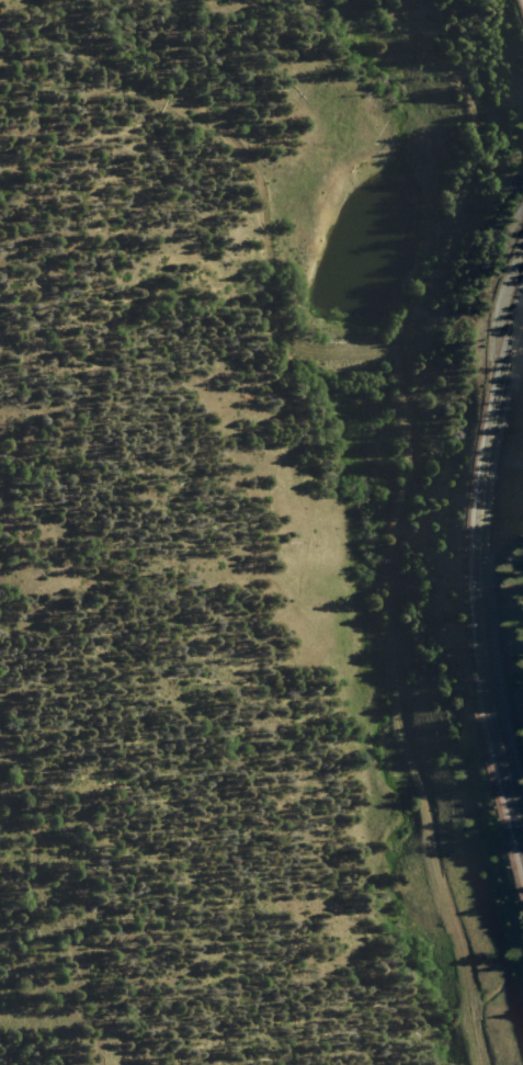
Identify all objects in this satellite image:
road: (178, 324)
road: (4, 439)
road: (396, 519)
road: (494, 563)

